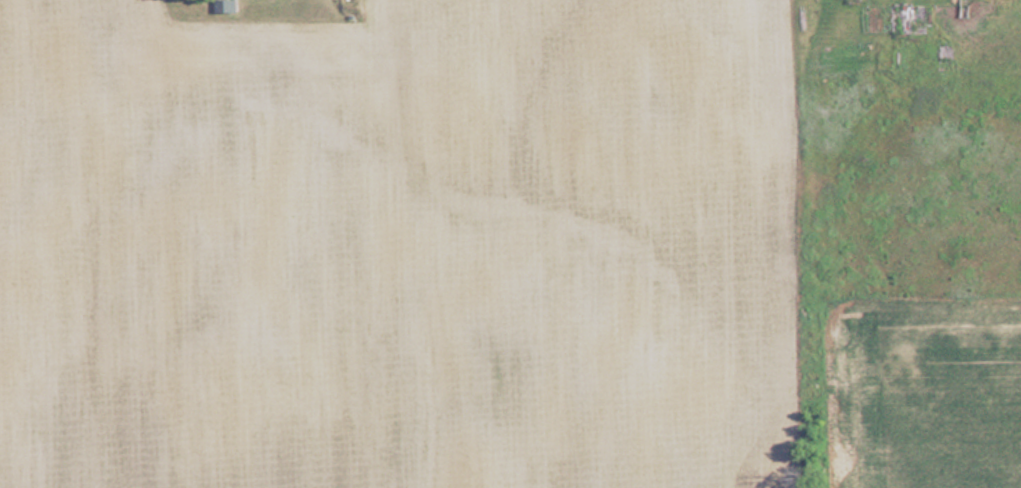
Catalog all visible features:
building: (223, 5)
building: (903, 18)

